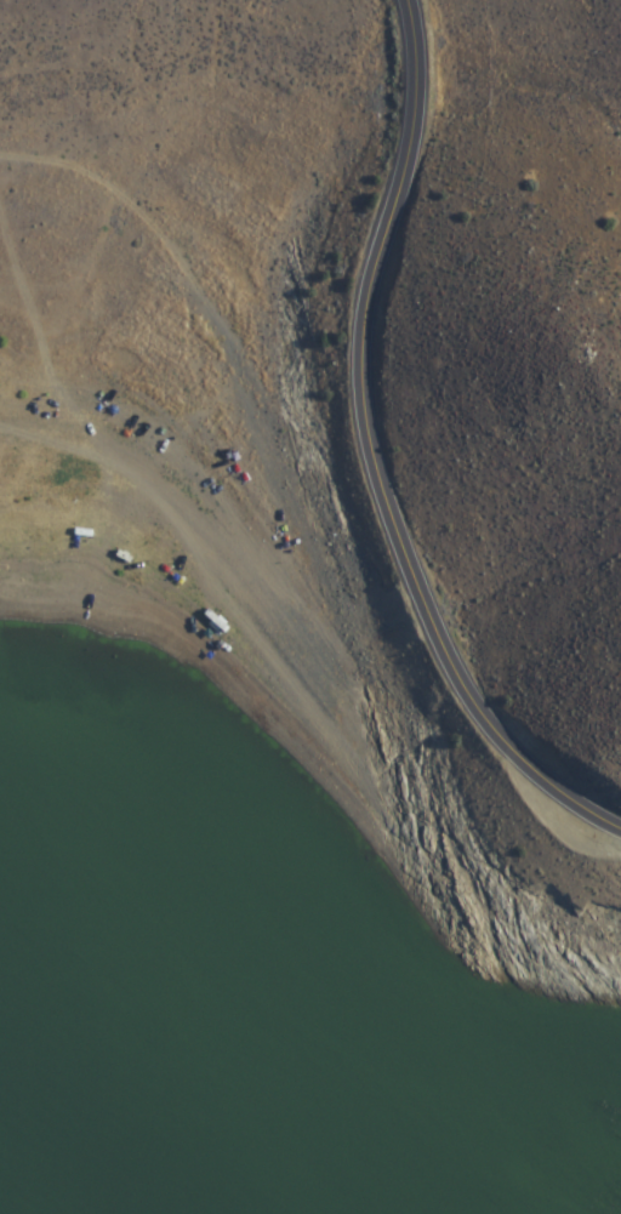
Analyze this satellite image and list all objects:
road: (376, 454)

